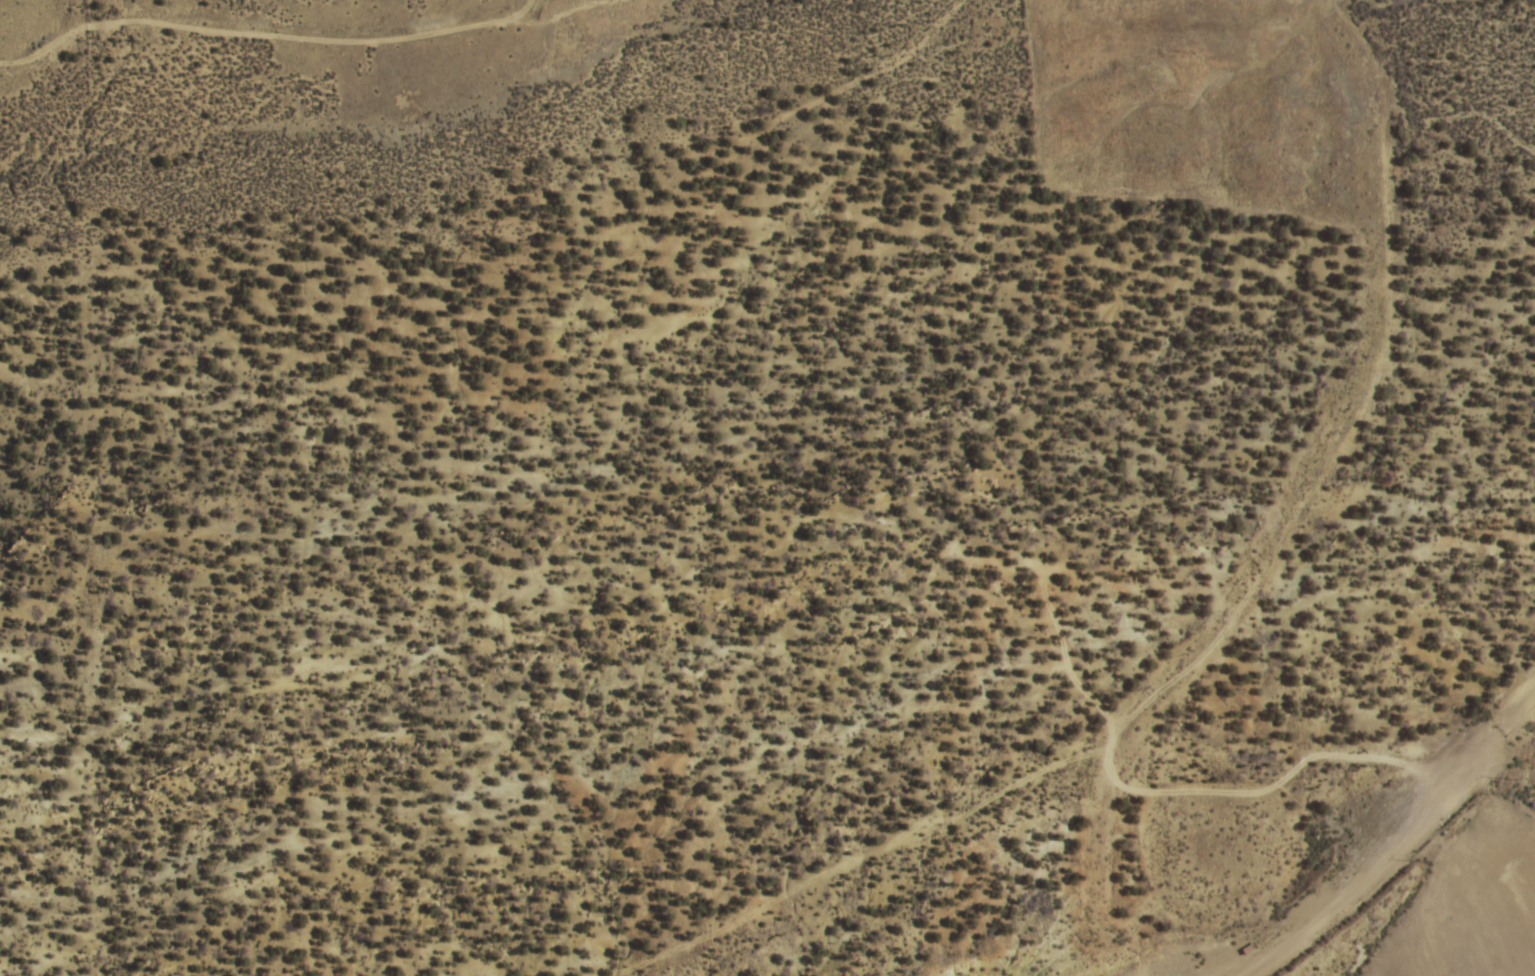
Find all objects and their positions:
road: (1391, 844)

